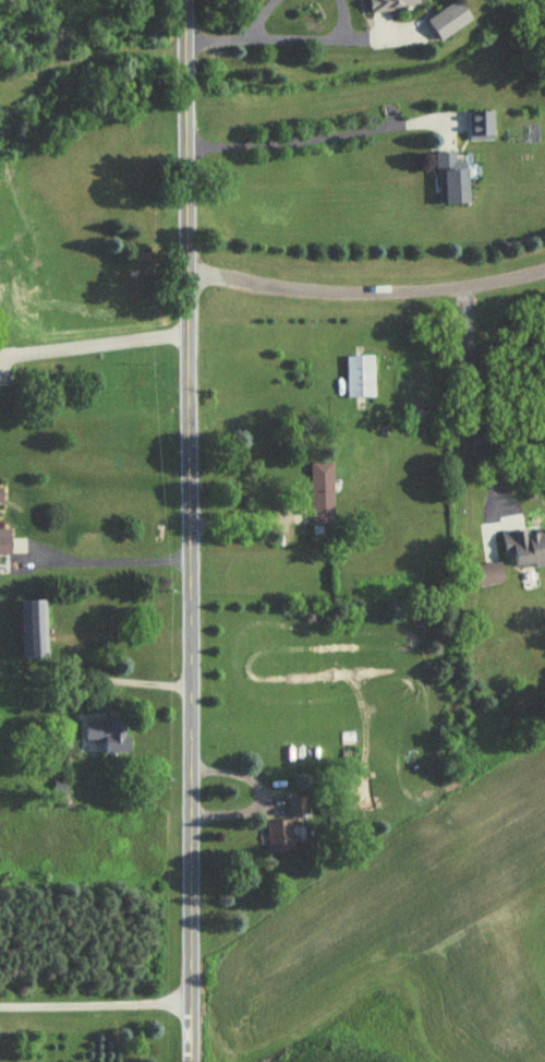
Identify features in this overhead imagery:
building: (390, 5)
building: (450, 23)
road: (59, 32)
road: (247, 37)
road: (89, 55)
building: (483, 126)
road: (296, 141)
building: (453, 180)
road: (366, 294)
road: (95, 339)
building: (361, 378)
road: (472, 390)
building: (323, 493)
building: (1, 496)
road: (246, 512)
road: (190, 530)
building: (5, 541)
building: (524, 548)
road: (112, 560)
building: (489, 574)
building: (33, 629)
road: (122, 682)
building: (109, 736)
building: (299, 808)
building: (281, 837)
crop: (412, 948)
road: (95, 1005)

